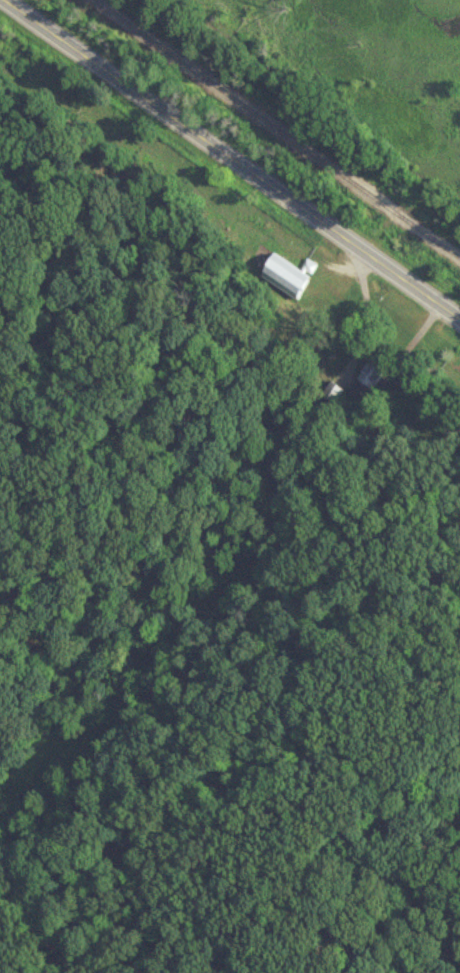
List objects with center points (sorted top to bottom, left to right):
railway: (275, 130)
road: (233, 158)
building: (289, 276)
building: (375, 373)
building: (333, 393)
building: (104, 489)

